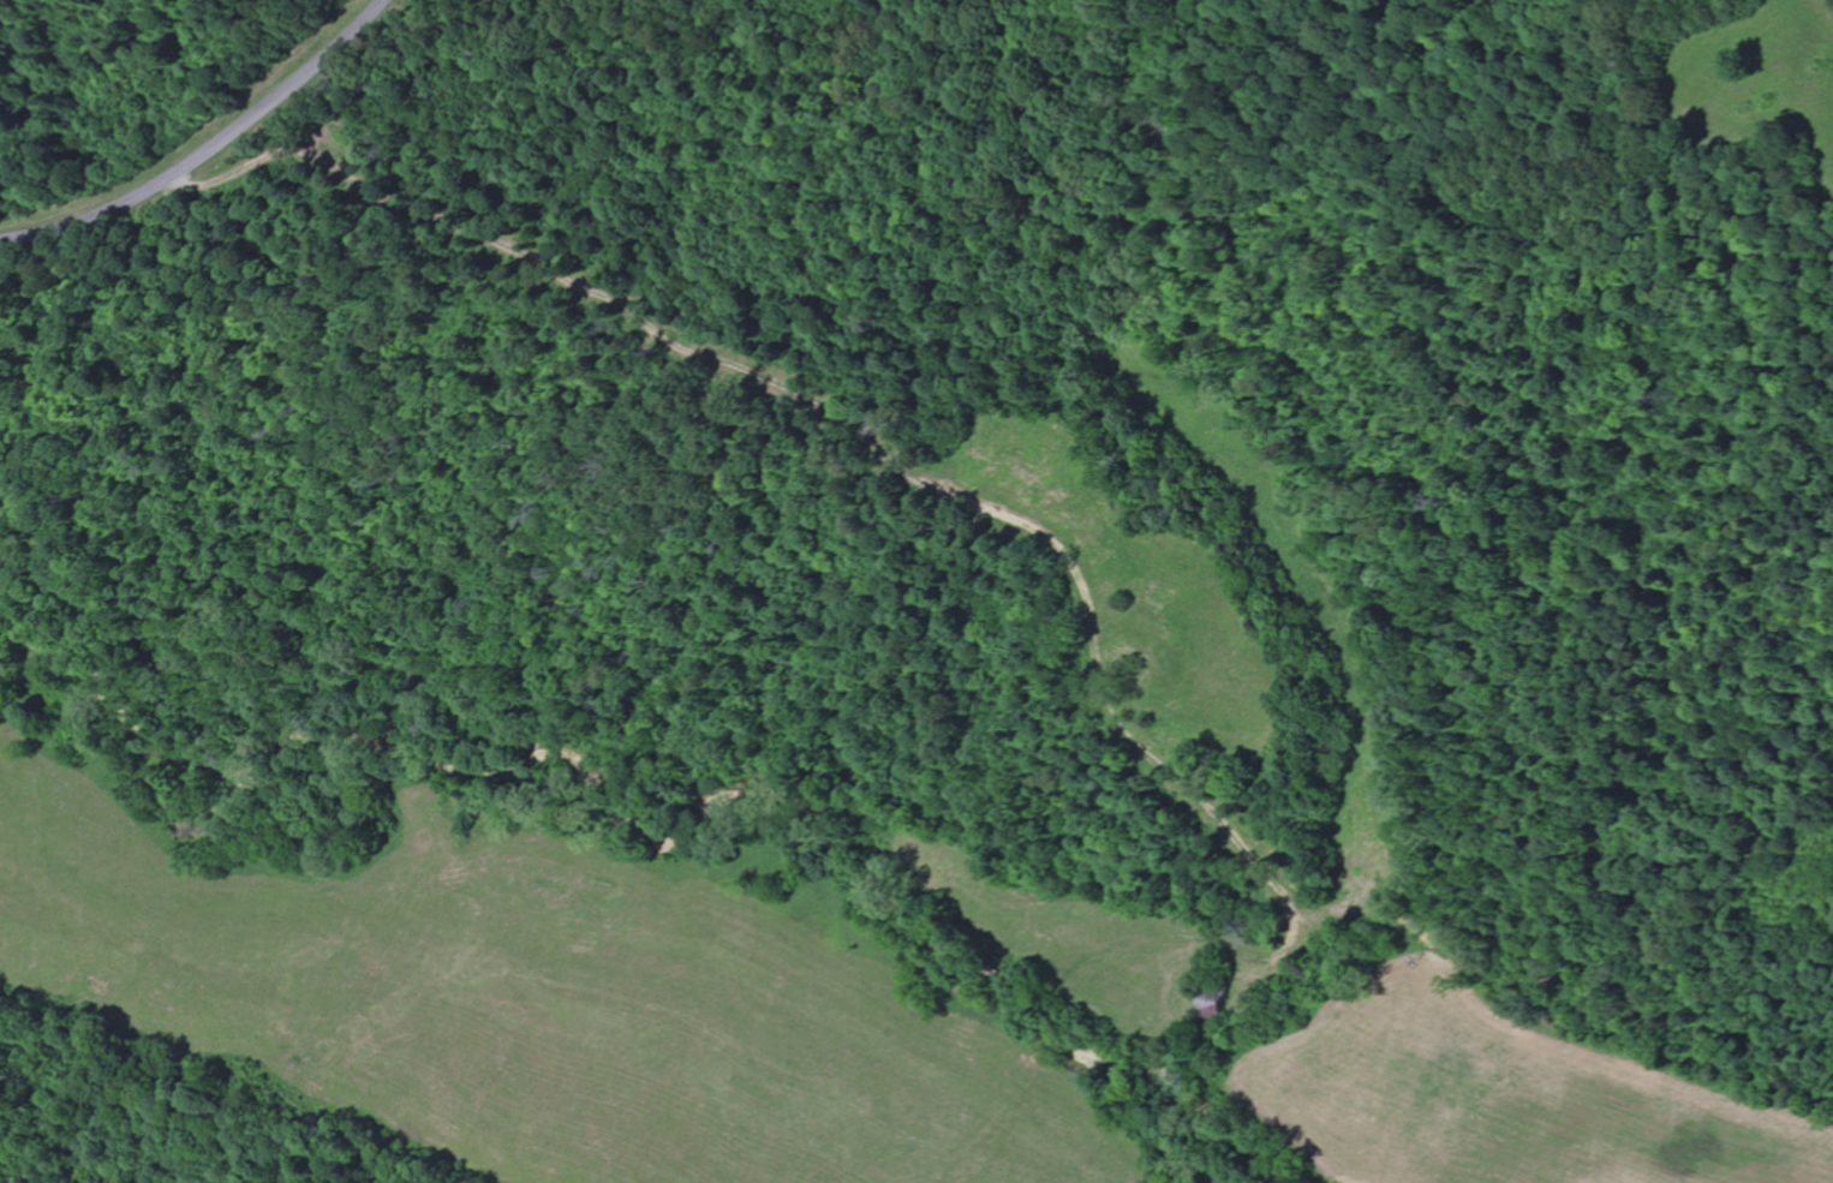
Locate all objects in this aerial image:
road: (207, 149)
road: (859, 339)

